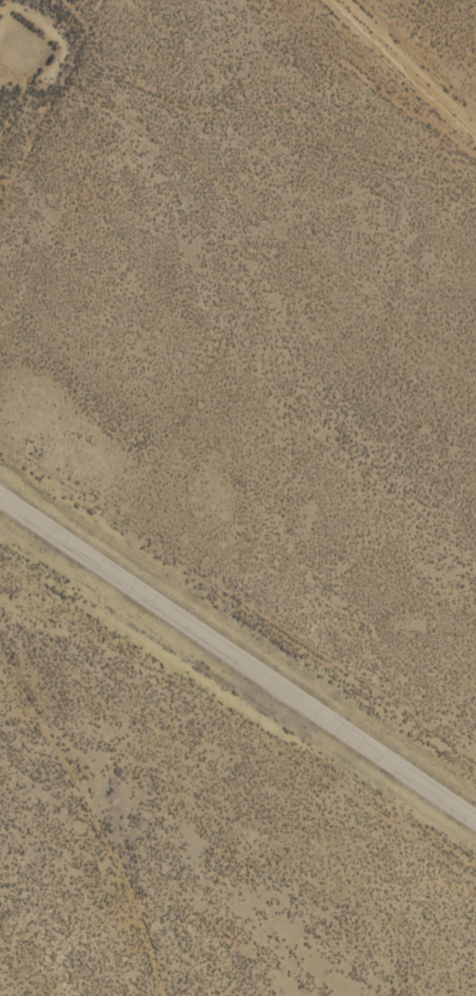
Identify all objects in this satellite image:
road: (405, 65)
road: (238, 668)

